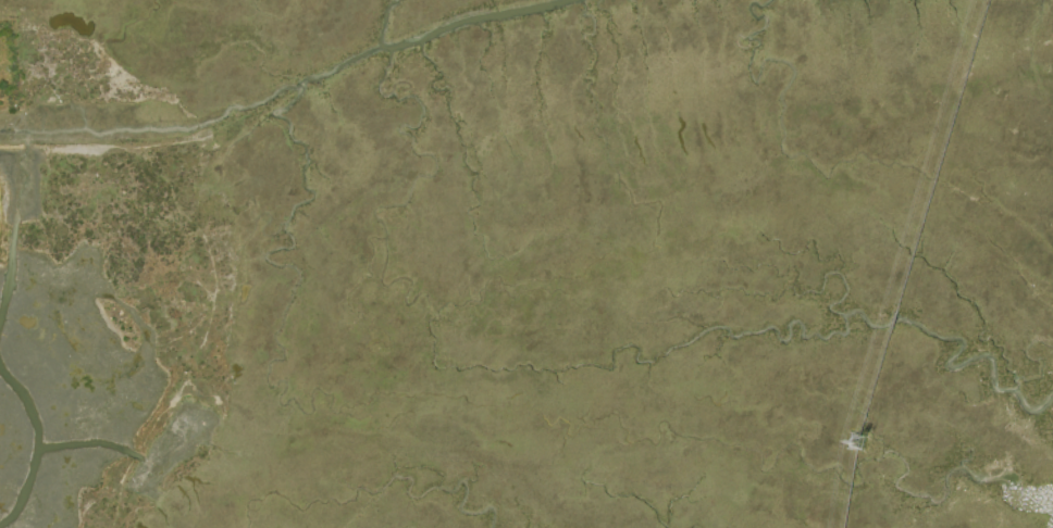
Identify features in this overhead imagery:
power tower: (857, 442)

